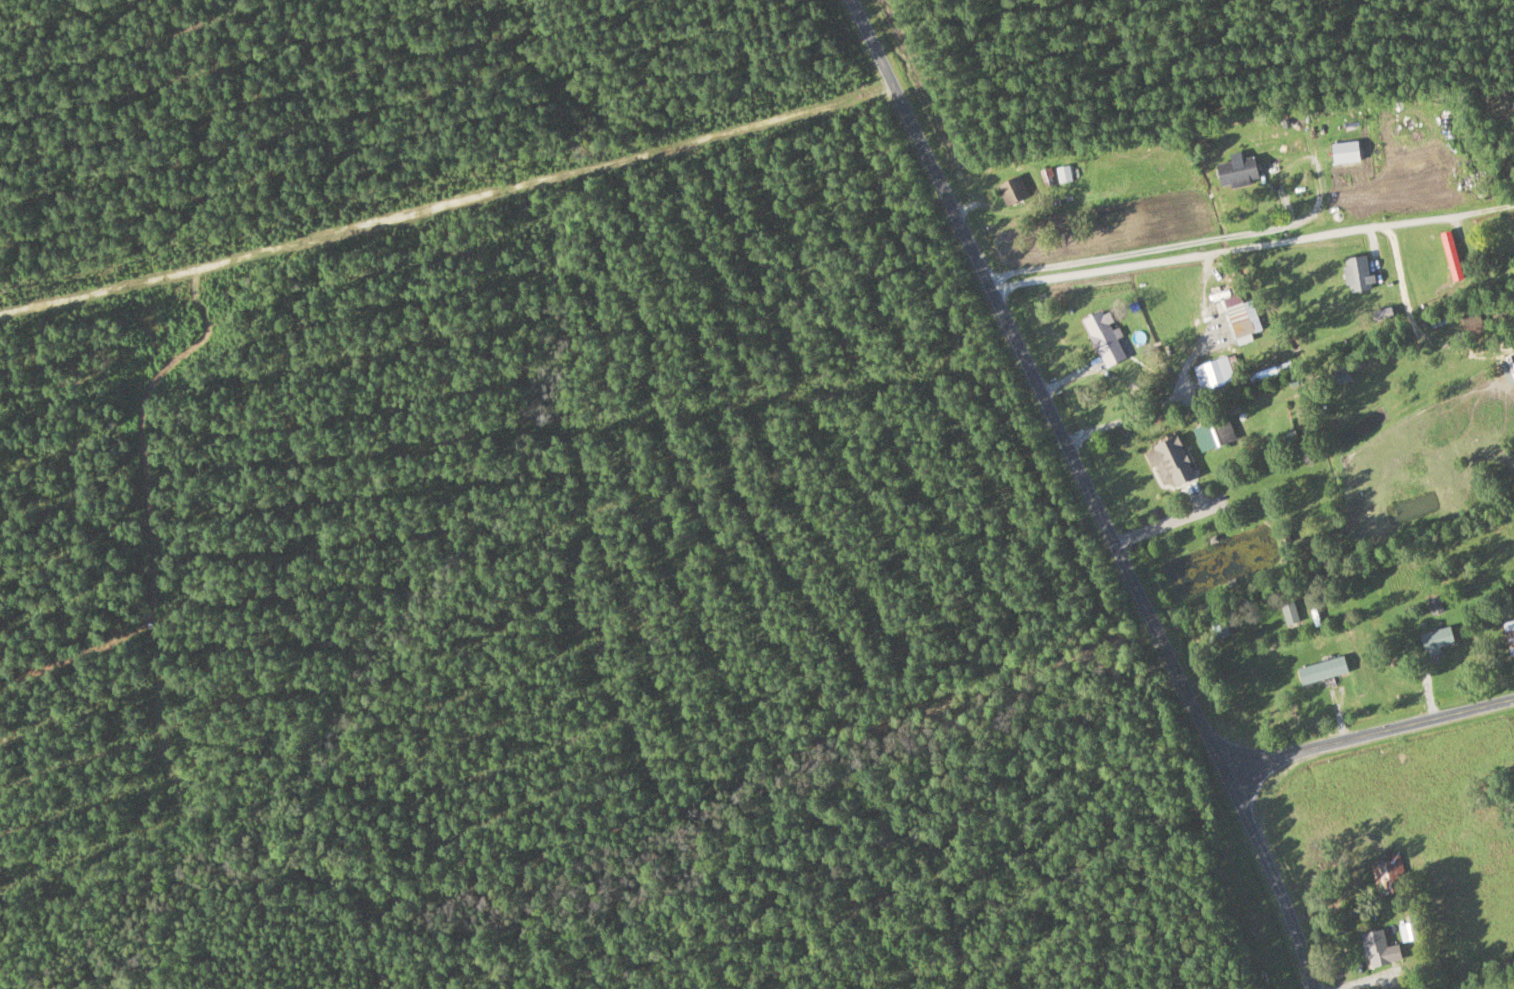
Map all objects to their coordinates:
building: (1235, 173)
building: (1011, 190)
road: (447, 196)
building: (1451, 256)
building: (1356, 274)
building: (1243, 321)
building: (1103, 339)
building: (1216, 373)
building: (1216, 434)
building: (1169, 462)
road: (1085, 493)
building: (1289, 612)
building: (1509, 635)
building: (1435, 640)
building: (1322, 670)
road: (1371, 736)
building: (1388, 872)
building: (1378, 949)

